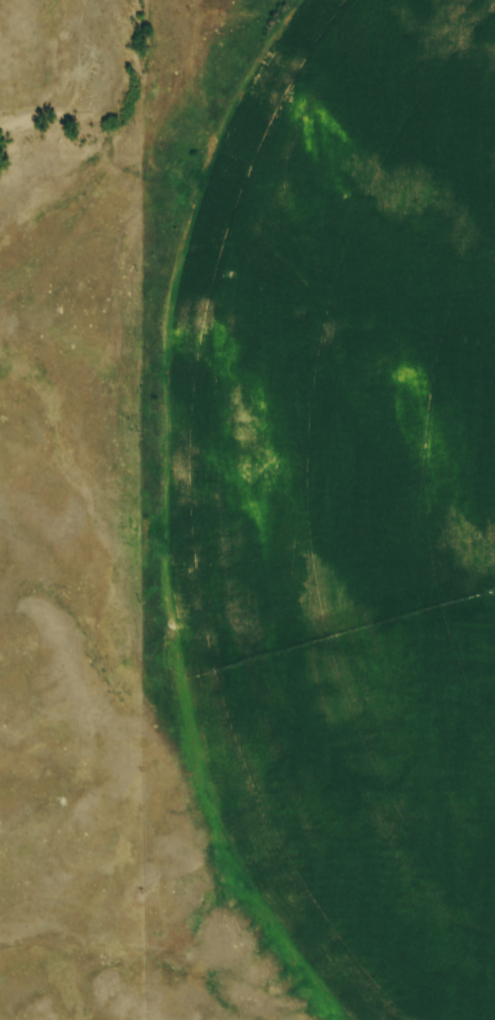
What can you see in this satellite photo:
crop: (343, 497)

